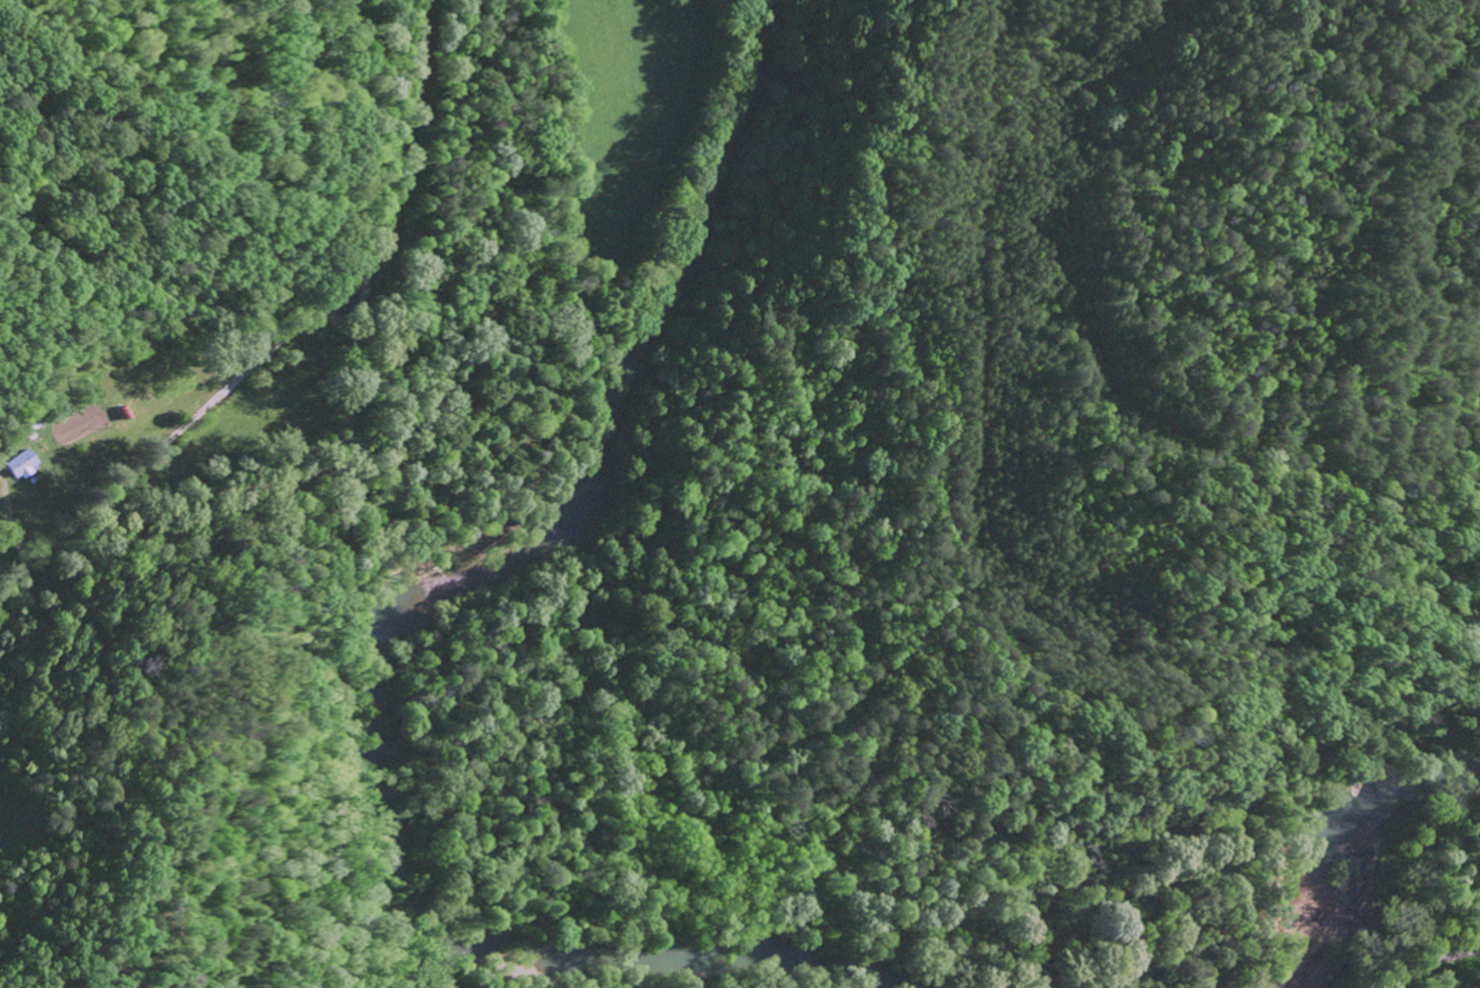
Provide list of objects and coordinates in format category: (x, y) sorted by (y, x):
road: (317, 305)
road: (335, 321)
building: (23, 464)
road: (52, 541)
road: (14, 571)
road: (329, 622)
road: (1433, 964)

